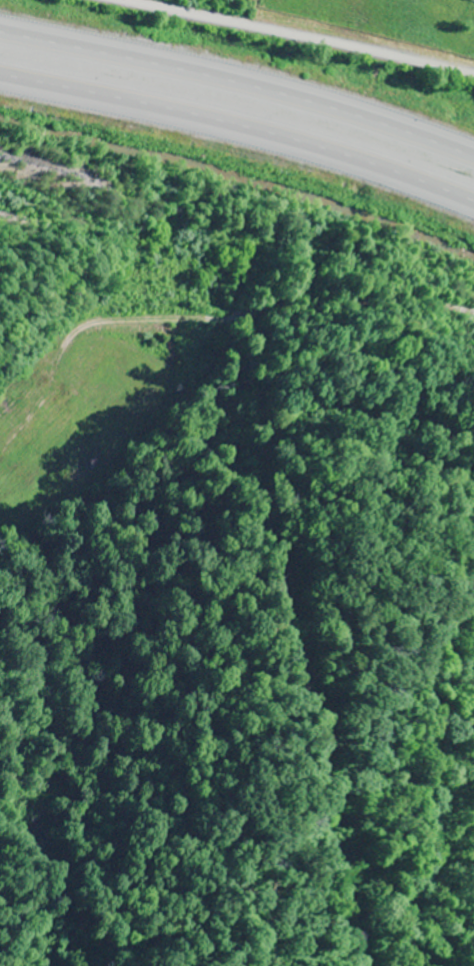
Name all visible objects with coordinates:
road: (304, 36)
road: (240, 89)
road: (240, 131)

